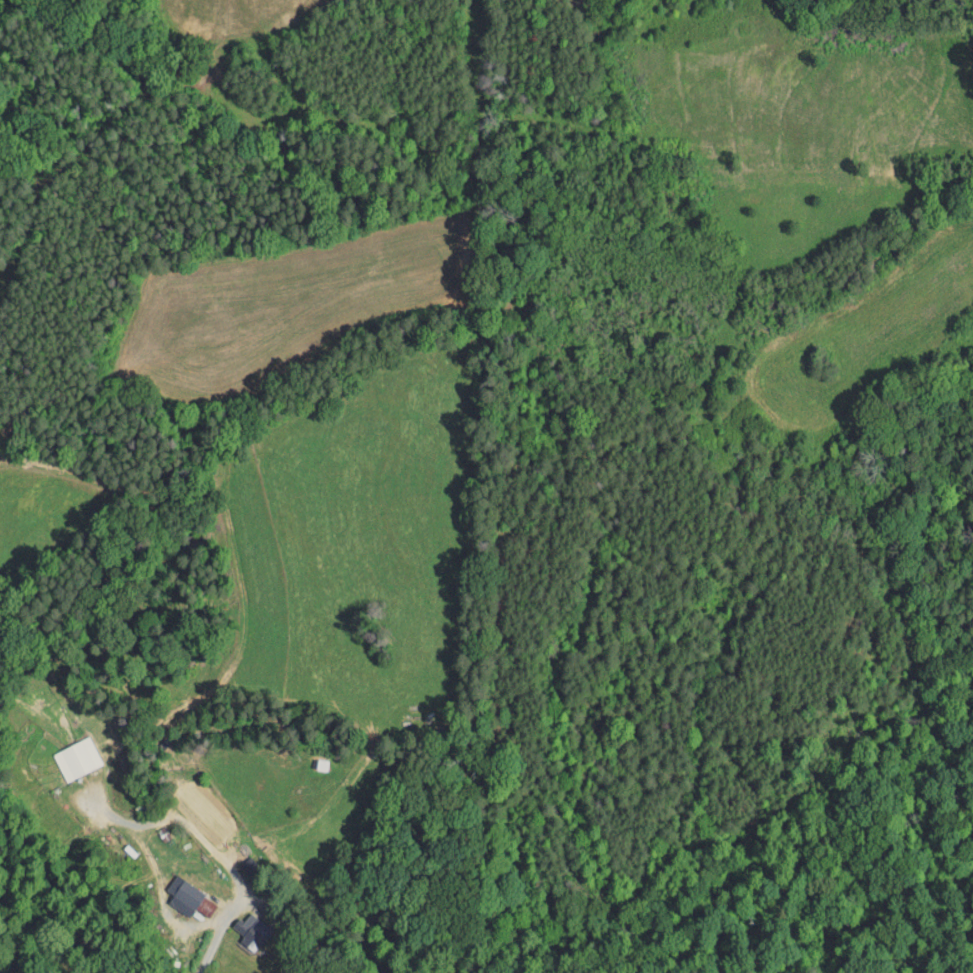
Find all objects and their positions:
road: (95, 279)
building: (64, 752)
road: (210, 846)
building: (173, 891)
road: (344, 900)
building: (239, 922)

